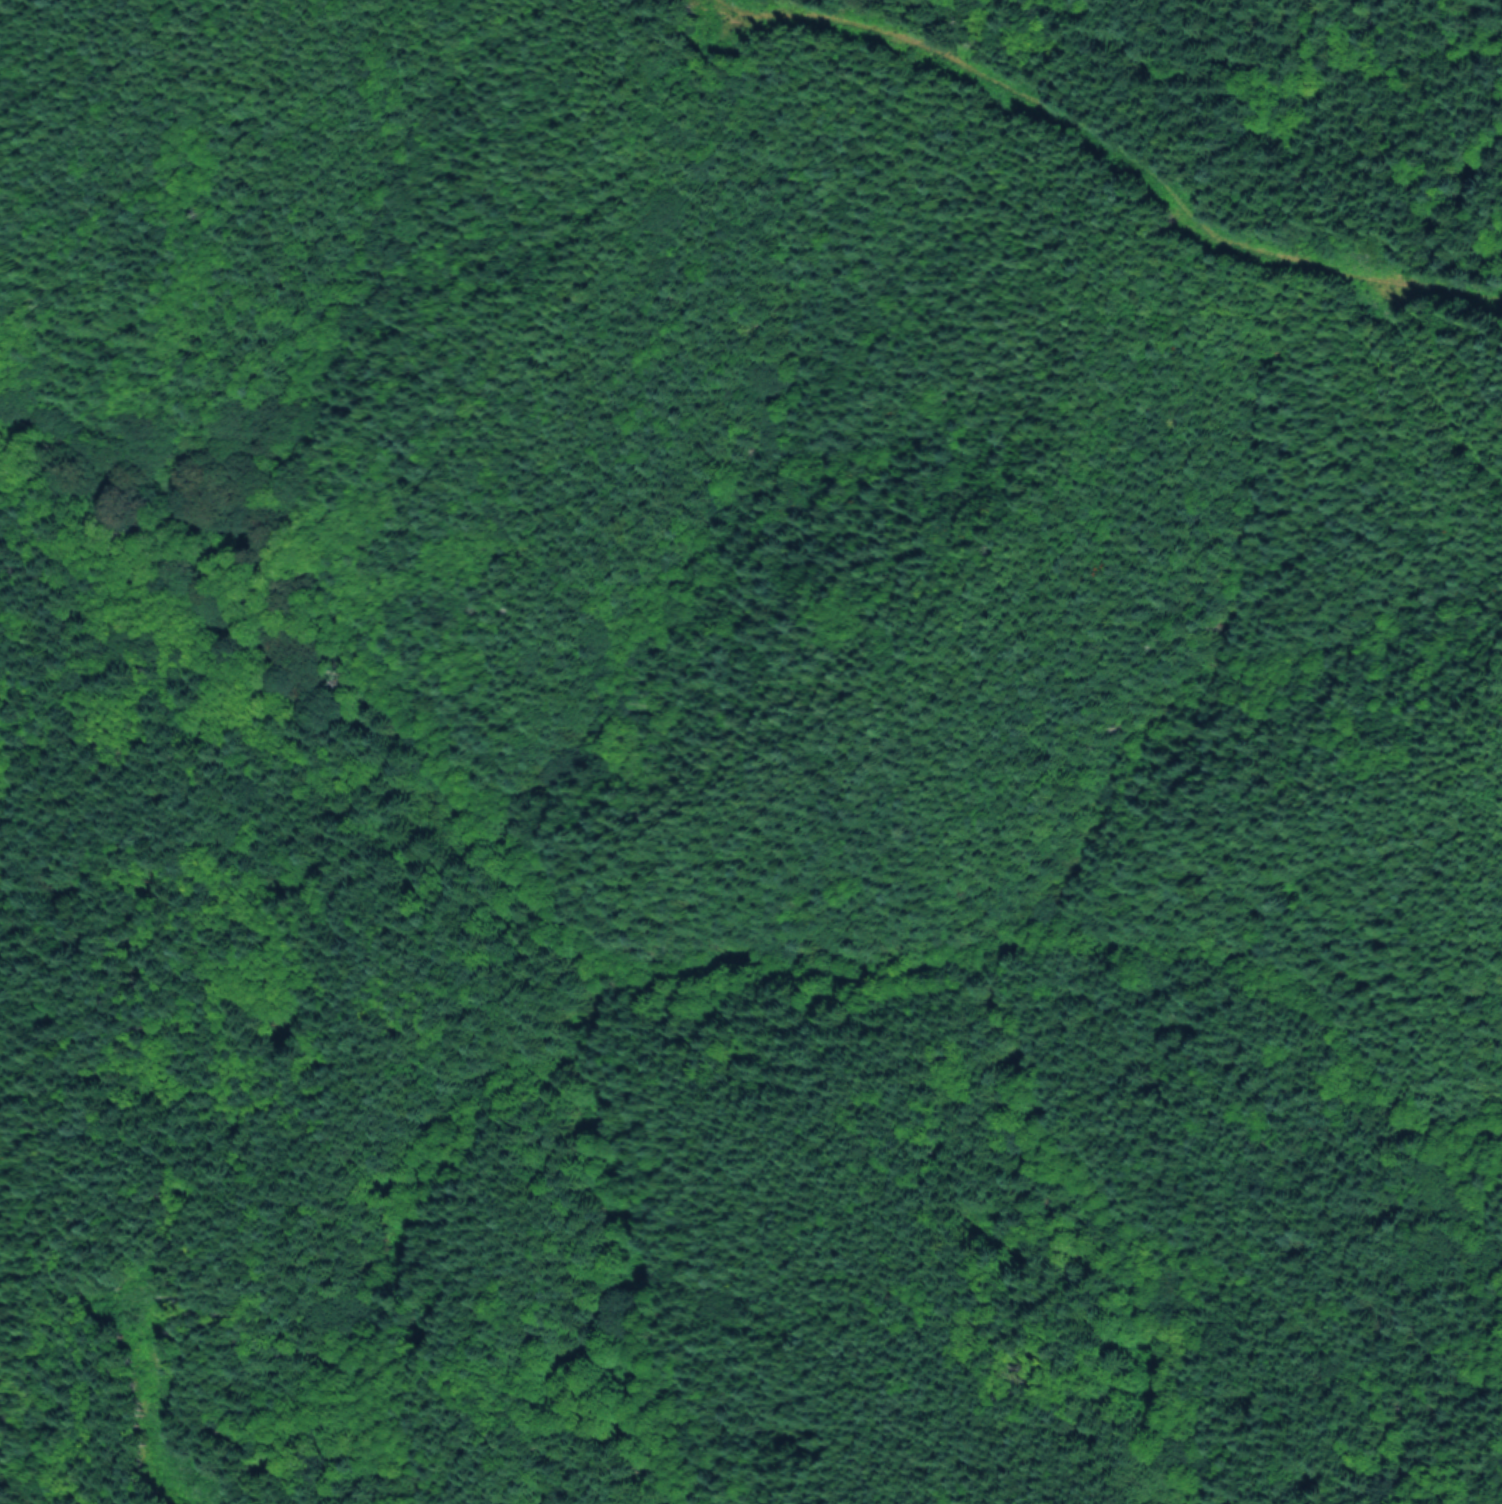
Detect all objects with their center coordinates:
road: (1222, 162)
road: (160, 1395)

